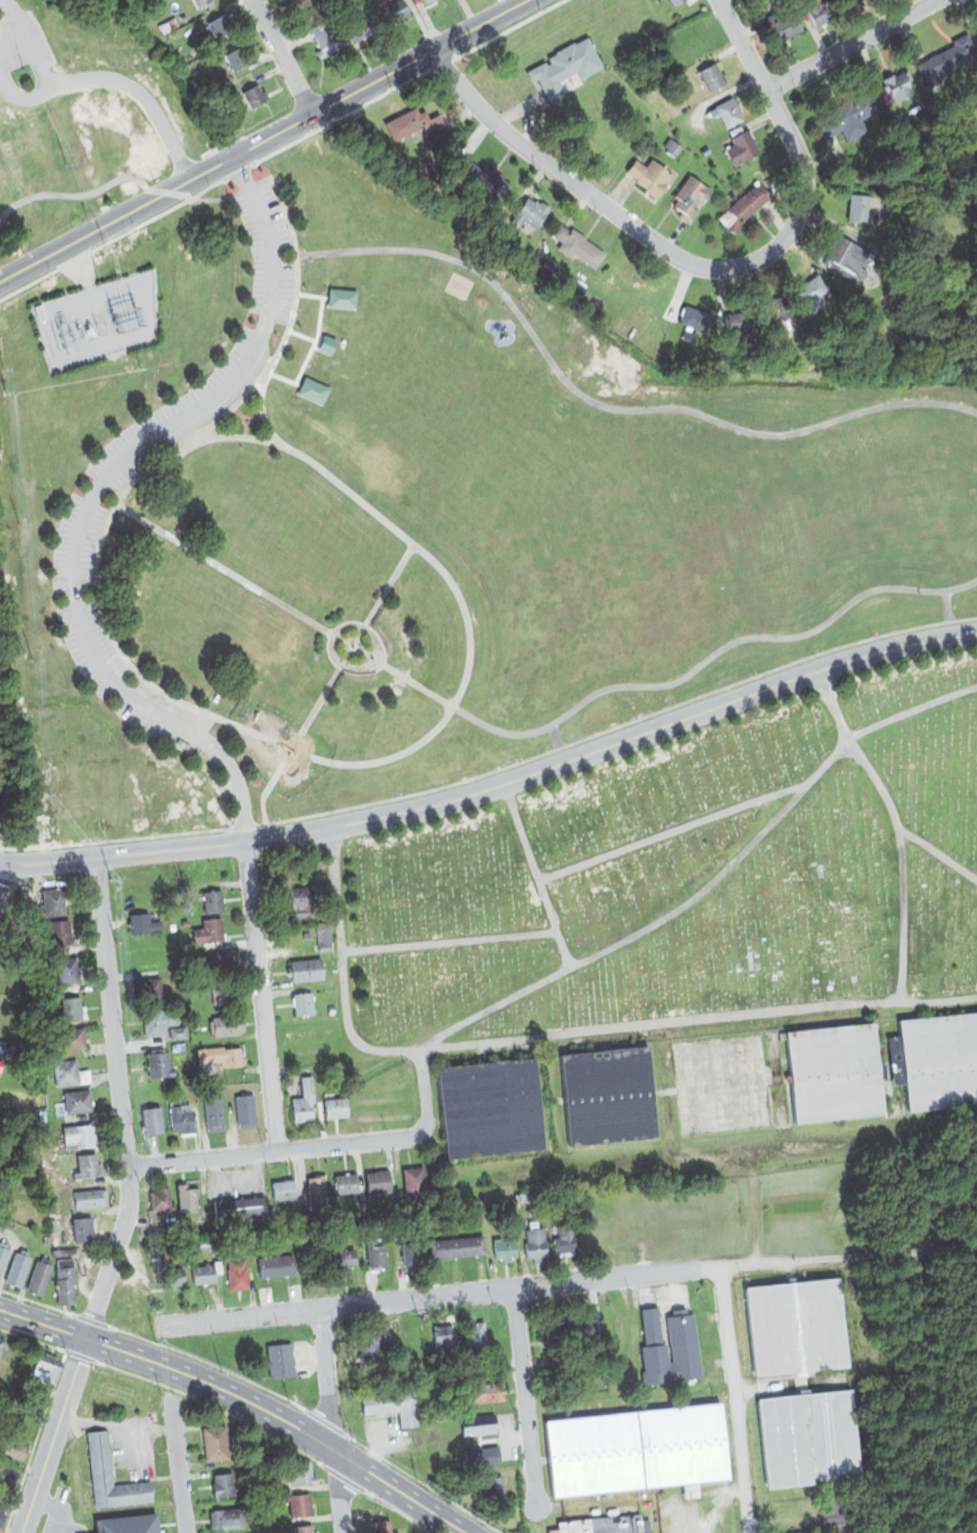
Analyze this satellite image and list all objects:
building: (203, 1)
building: (673, 1)
building: (859, 1)
building: (431, 2)
building: (825, 7)
building: (399, 10)
building: (183, 17)
building: (782, 21)
building: (220, 24)
building: (169, 25)
building: (366, 26)
building: (329, 37)
road: (852, 43)
building: (235, 57)
road: (283, 57)
building: (942, 64)
building: (564, 67)
road: (42, 70)
building: (711, 75)
building: (900, 86)
building: (255, 94)
road: (142, 95)
building: (726, 110)
power tower: (75, 111)
building: (846, 117)
park: (83, 118)
building: (413, 124)
road: (264, 141)
building: (671, 146)
building: (743, 146)
road: (241, 170)
building: (649, 174)
building: (485, 179)
road: (251, 189)
road: (168, 191)
road: (72, 194)
building: (690, 197)
road: (210, 199)
building: (742, 207)
building: (872, 209)
building: (529, 211)
power tower: (132, 242)
building: (576, 245)
building: (855, 261)
road: (706, 267)
building: (343, 297)
power tower: (159, 311)
building: (796, 314)
building: (715, 317)
power substation: (98, 319)
power tower: (136, 320)
building: (327, 343)
building: (314, 389)
road: (608, 406)
road: (264, 411)
road: (196, 424)
road: (121, 460)
park: (408, 512)
road: (389, 585)
road: (948, 605)
road: (963, 619)
road: (366, 628)
road: (223, 719)
road: (210, 727)
road: (609, 729)
road: (525, 733)
road: (555, 735)
road: (293, 745)
road: (238, 785)
road: (497, 786)
building: (1, 798)
road: (244, 825)
road: (671, 831)
road: (938, 852)
road: (2, 871)
park: (690, 873)
road: (536, 874)
road: (711, 882)
building: (301, 899)
building: (13, 900)
building: (53, 901)
building: (212, 901)
building: (183, 921)
building: (143, 923)
building: (171, 926)
building: (208, 930)
building: (60, 931)
building: (306, 934)
building: (324, 936)
road: (449, 940)
road: (343, 968)
building: (305, 969)
building: (67, 971)
building: (220, 974)
building: (151, 992)
road: (261, 996)
road: (938, 1000)
building: (302, 1004)
building: (330, 1009)
building: (70, 1010)
building: (12, 1011)
building: (157, 1021)
road: (645, 1022)
building: (225, 1026)
building: (178, 1033)
building: (69, 1038)
building: (178, 1047)
building: (3, 1048)
building: (218, 1058)
building: (935, 1061)
building: (159, 1063)
building: (1, 1065)
building: (68, 1072)
building: (833, 1073)
building: (722, 1082)
building: (188, 1083)
building: (609, 1095)
building: (305, 1101)
building: (77, 1102)
building: (334, 1106)
building: (489, 1107)
building: (246, 1109)
building: (214, 1114)
building: (41, 1115)
building: (151, 1118)
building: (182, 1118)
building: (80, 1136)
building: (86, 1166)
building: (413, 1180)
building: (375, 1181)
building: (345, 1183)
building: (284, 1188)
building: (317, 1194)
building: (187, 1197)
building: (90, 1198)
building: (161, 1198)
road: (130, 1203)
building: (240, 1207)
building: (390, 1208)
building: (378, 1209)
building: (343, 1212)
building: (52, 1222)
building: (86, 1227)
building: (46, 1238)
building: (565, 1238)
building: (535, 1240)
building: (411, 1247)
building: (457, 1247)
building: (503, 1247)
building: (62, 1251)
building: (202, 1252)
building: (376, 1252)
building: (3, 1254)
road: (848, 1254)
building: (343, 1257)
building: (276, 1265)
building: (17, 1267)
building: (207, 1271)
building: (238, 1273)
building: (40, 1275)
building: (172, 1277)
building: (65, 1280)
road: (438, 1296)
building: (585, 1325)
building: (795, 1325)
building: (617, 1326)
building: (553, 1330)
building: (476, 1336)
building: (445, 1339)
building: (371, 1341)
building: (2, 1342)
building: (671, 1347)
building: (280, 1359)
building: (487, 1365)
building: (45, 1367)
building: (375, 1377)
park: (973, 1388)
building: (486, 1391)
road: (525, 1395)
road: (243, 1399)
road: (735, 1399)
building: (395, 1405)
road: (333, 1421)
building: (478, 1423)
building: (809, 1437)
building: (216, 1441)
building: (684, 1444)
building: (12, 1446)
building: (482, 1451)
building: (594, 1453)
road: (178, 1463)
building: (302, 1472)
building: (111, 1474)
building: (8, 1478)
building: (224, 1483)
building: (493, 1483)
building: (300, 1504)
building: (3, 1513)
building: (228, 1517)
building: (617, 1523)
building: (381, 1525)
building: (574, 1525)
building: (848, 1525)
building: (654, 1526)
building: (304, 1529)
building: (553, 1530)
building: (795, 1531)

